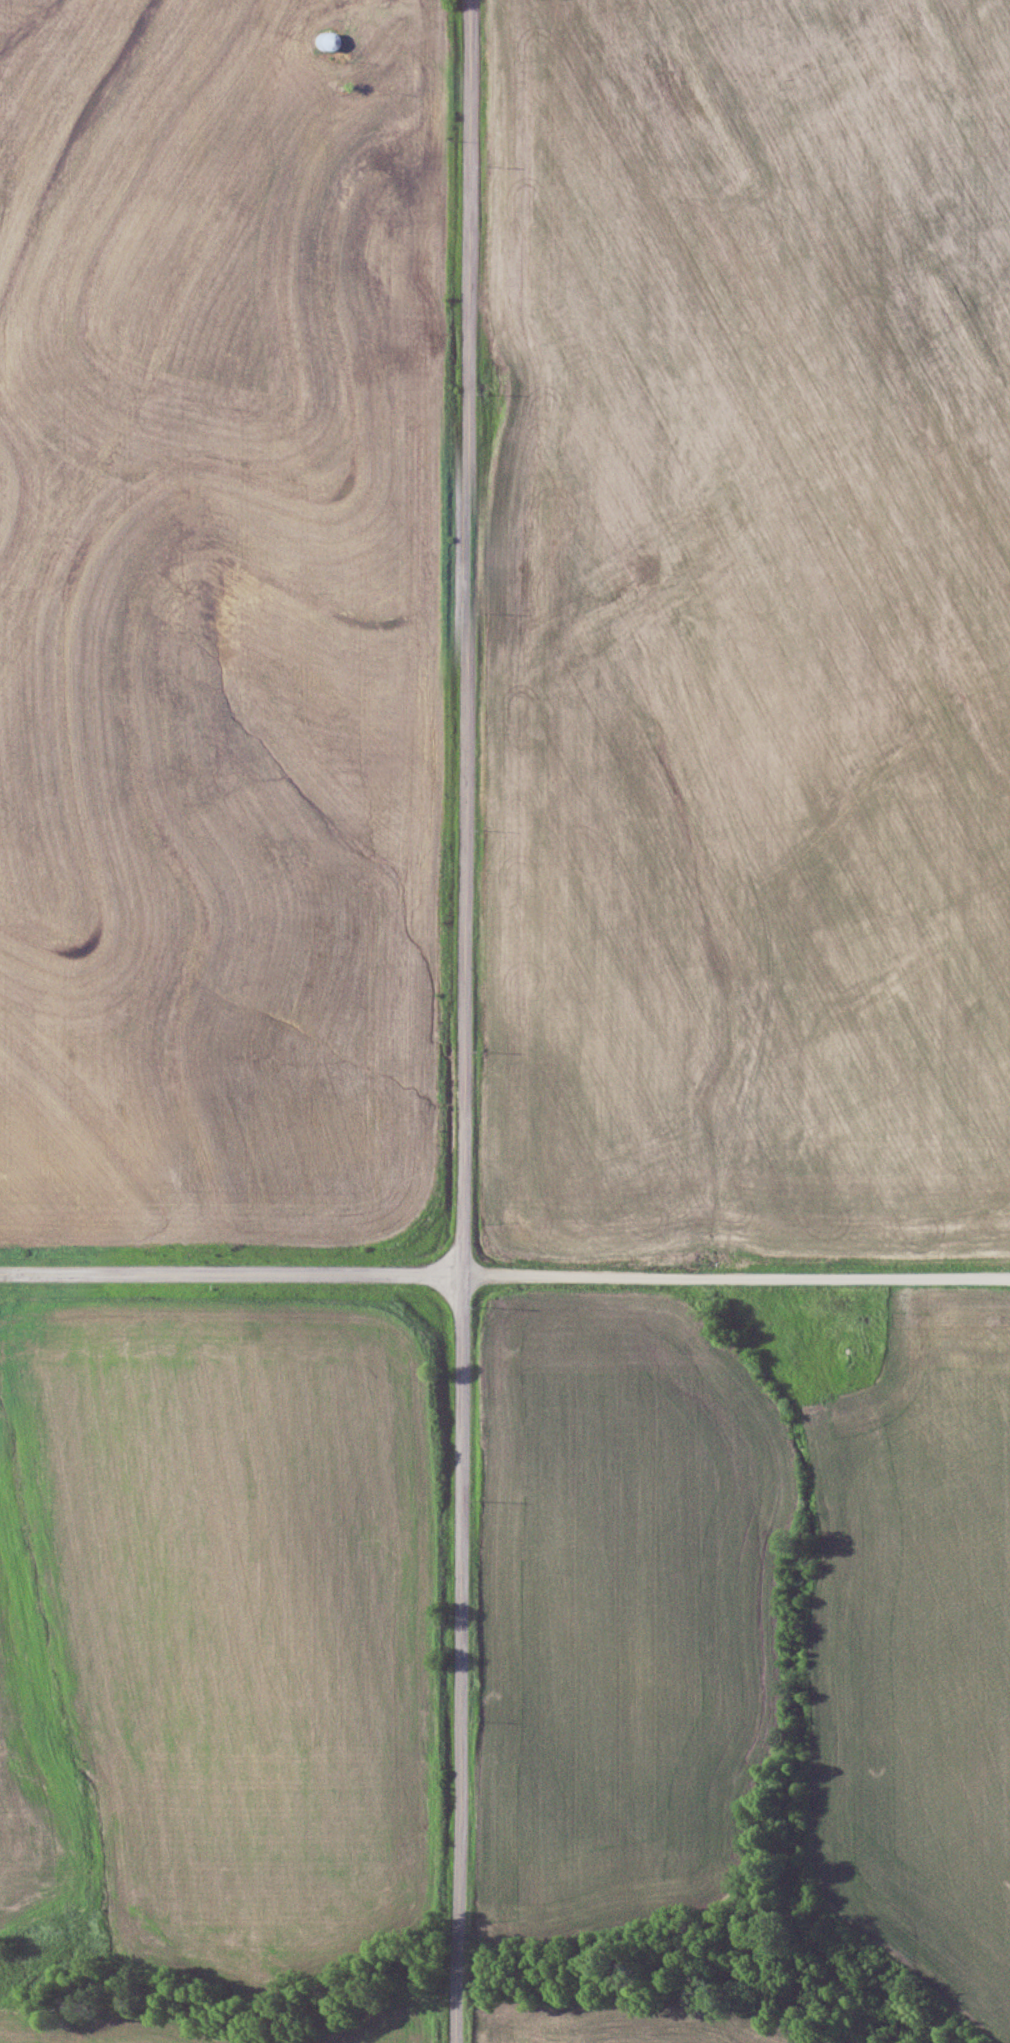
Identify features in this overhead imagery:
building: (327, 39)
road: (462, 1021)
road: (231, 1272)
road: (735, 1278)

